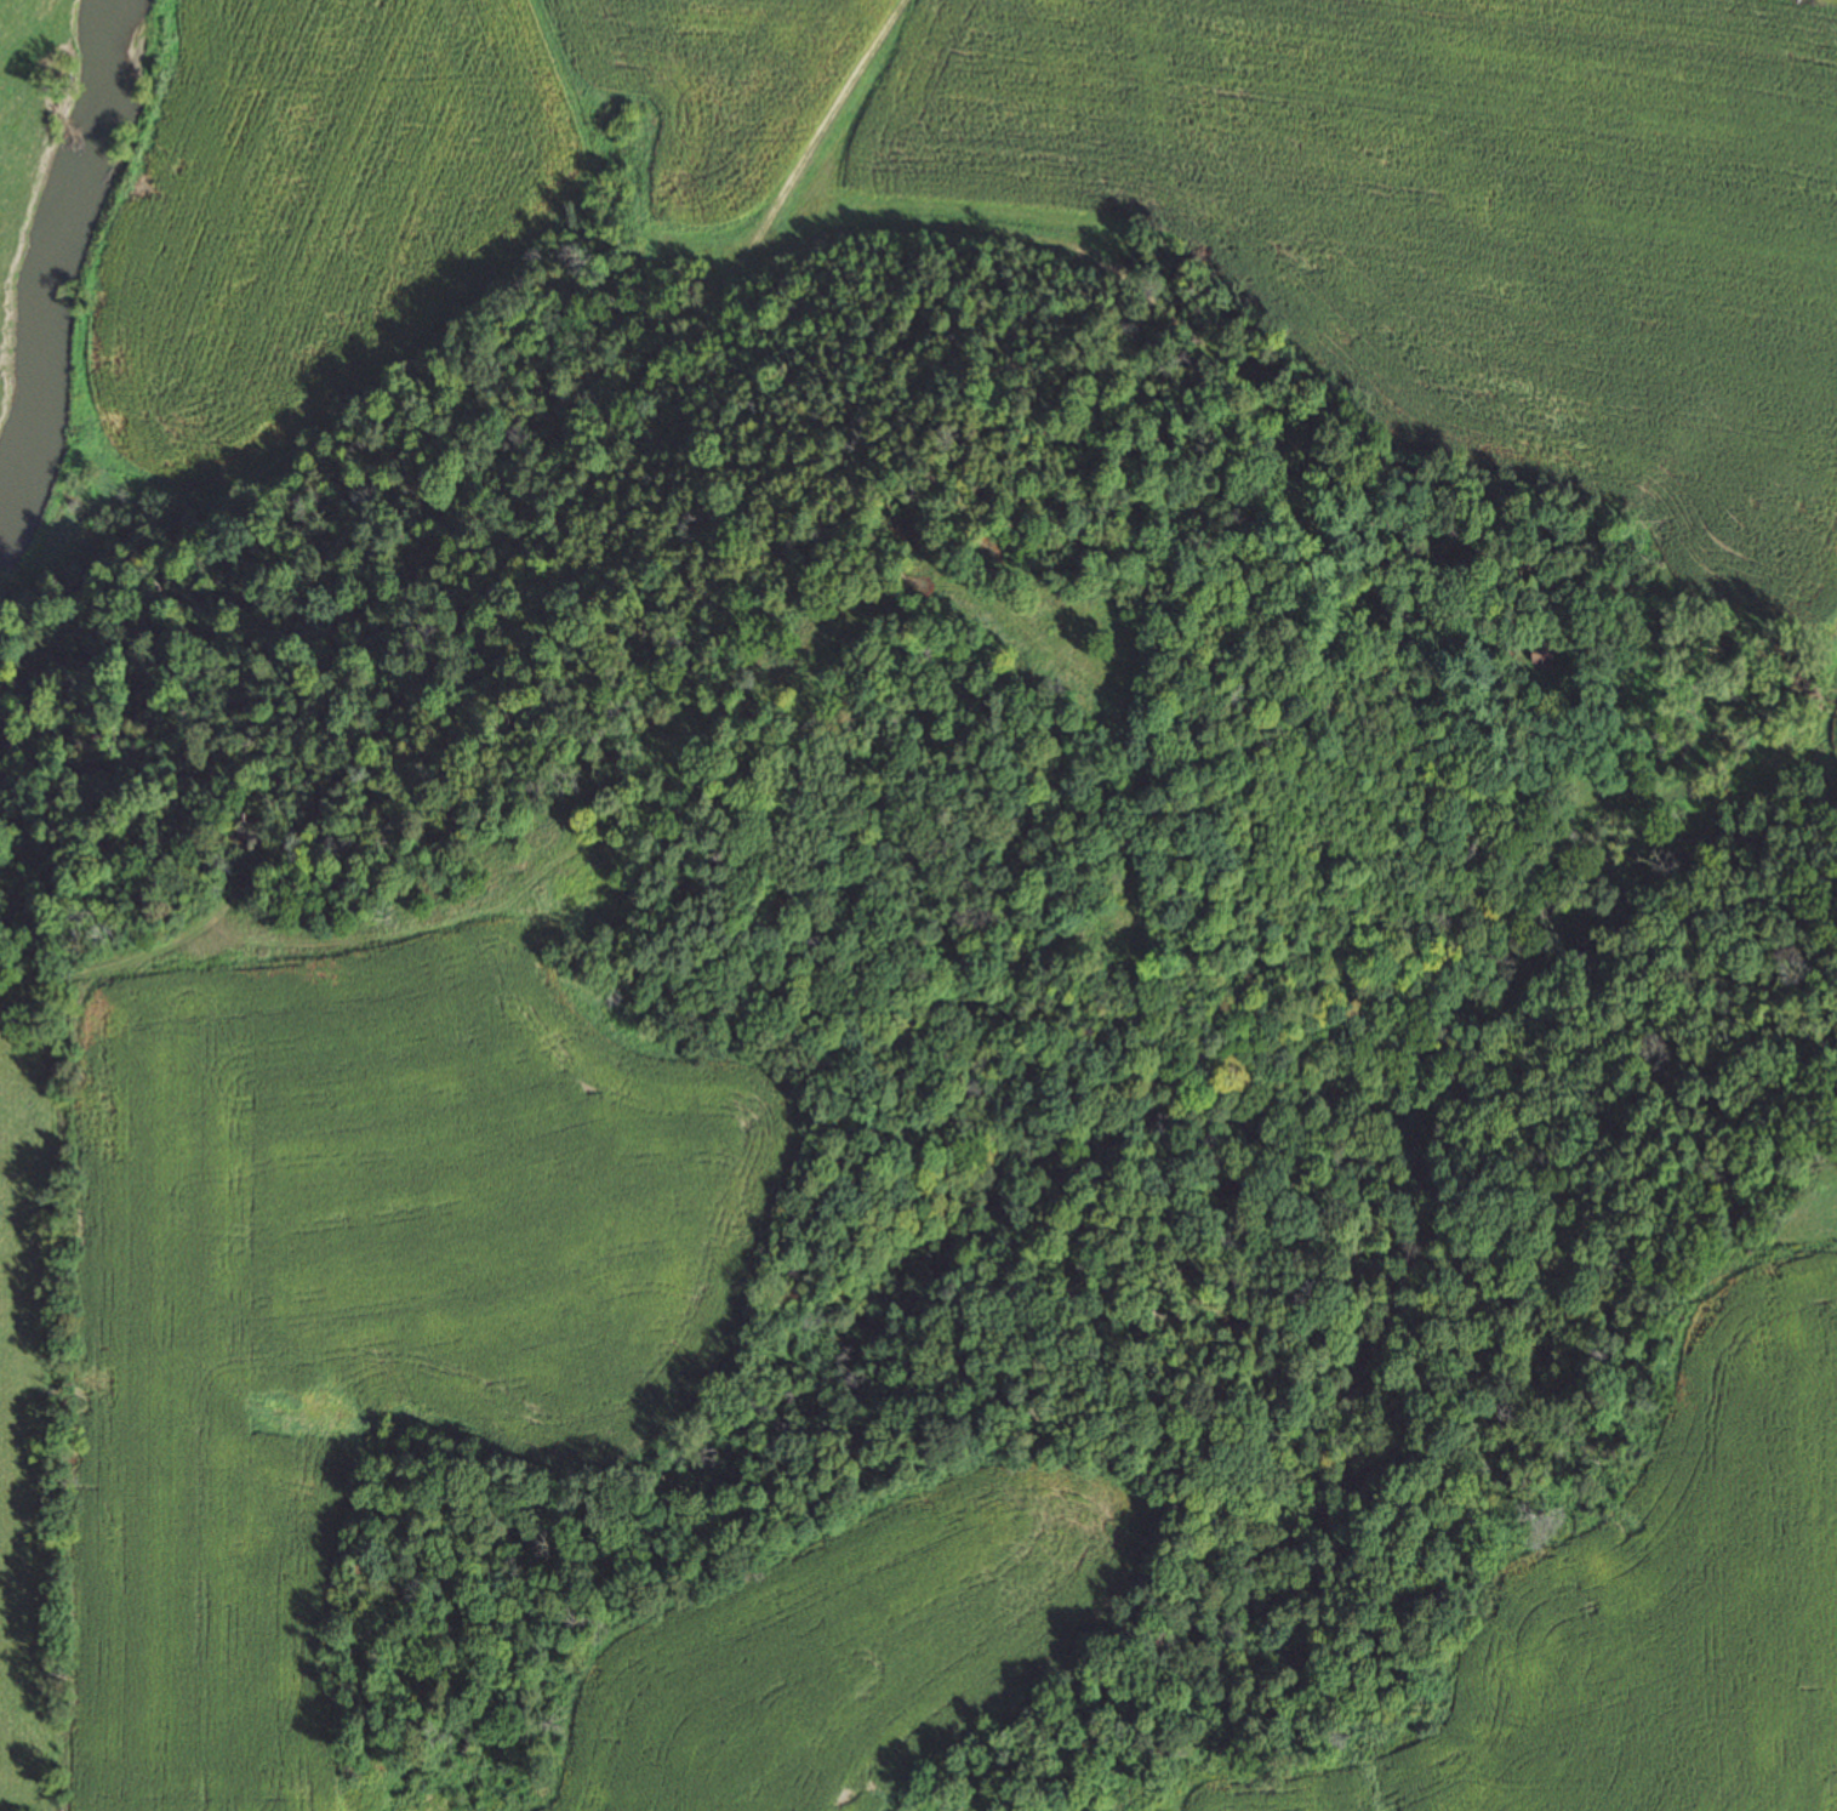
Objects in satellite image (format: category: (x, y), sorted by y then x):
river: (57, 233)
building: (1539, 654)

